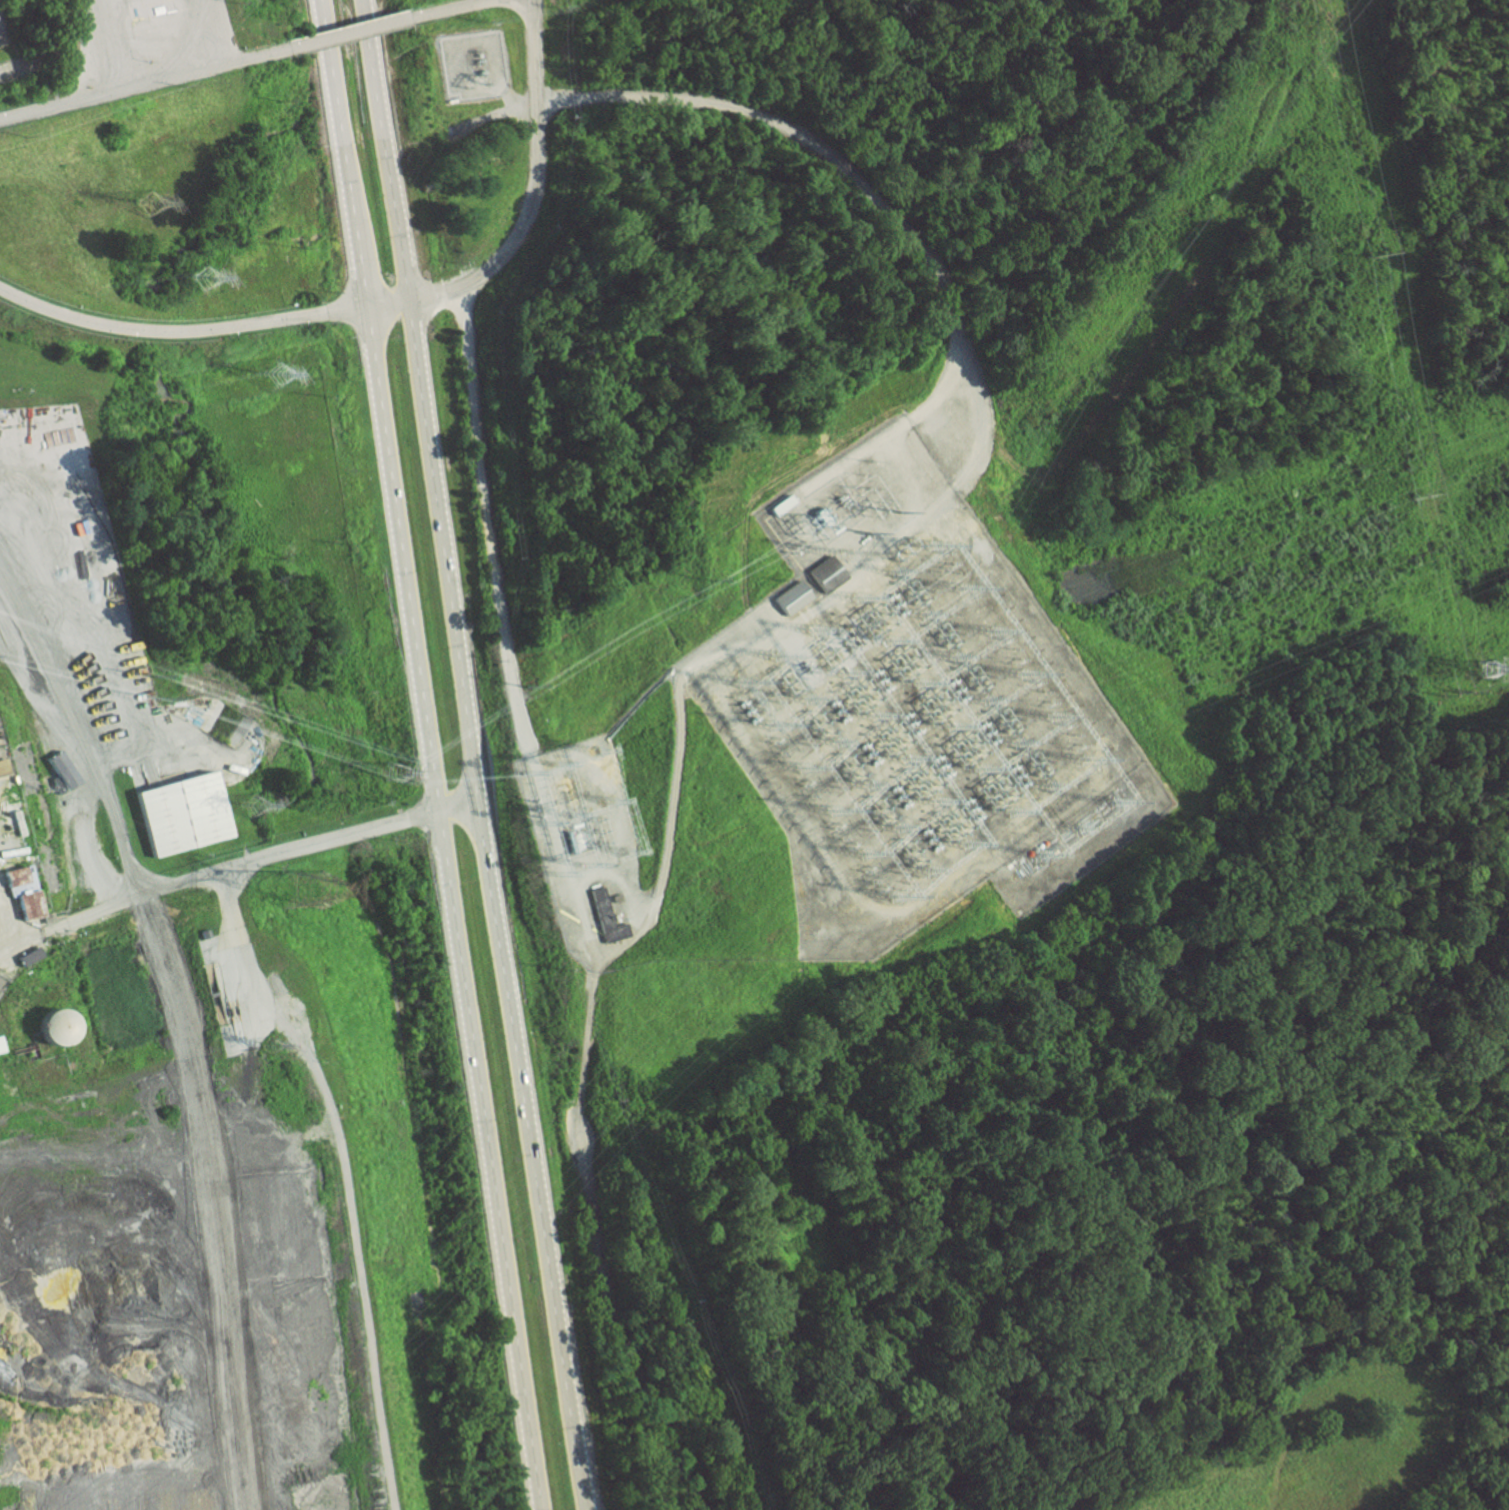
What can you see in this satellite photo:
road: (463, 9)
parking lot: (4, 26)
road: (354, 34)
parking lot: (21, 63)
power substation: (470, 63)
road: (142, 82)
road: (843, 166)
power tower: (147, 203)
road: (532, 207)
power tower: (1370, 256)
power tower: (205, 276)
road: (181, 329)
power tower: (275, 375)
power tower: (1419, 499)
road: (490, 523)
building: (827, 574)
building: (792, 597)
power tower: (1485, 671)
power tower: (1458, 695)
power substation: (844, 748)
road: (71, 749)
road: (428, 755)
road: (472, 755)
building: (68, 770)
power tower: (395, 773)
power tower: (250, 806)
building: (180, 811)
road: (235, 863)
power tower: (299, 892)
building: (28, 893)
building: (609, 919)
building: (53, 1025)
building: (69, 1029)
building: (3, 1046)
power tower: (269, 1047)
road: (588, 1055)
road: (626, 1329)

